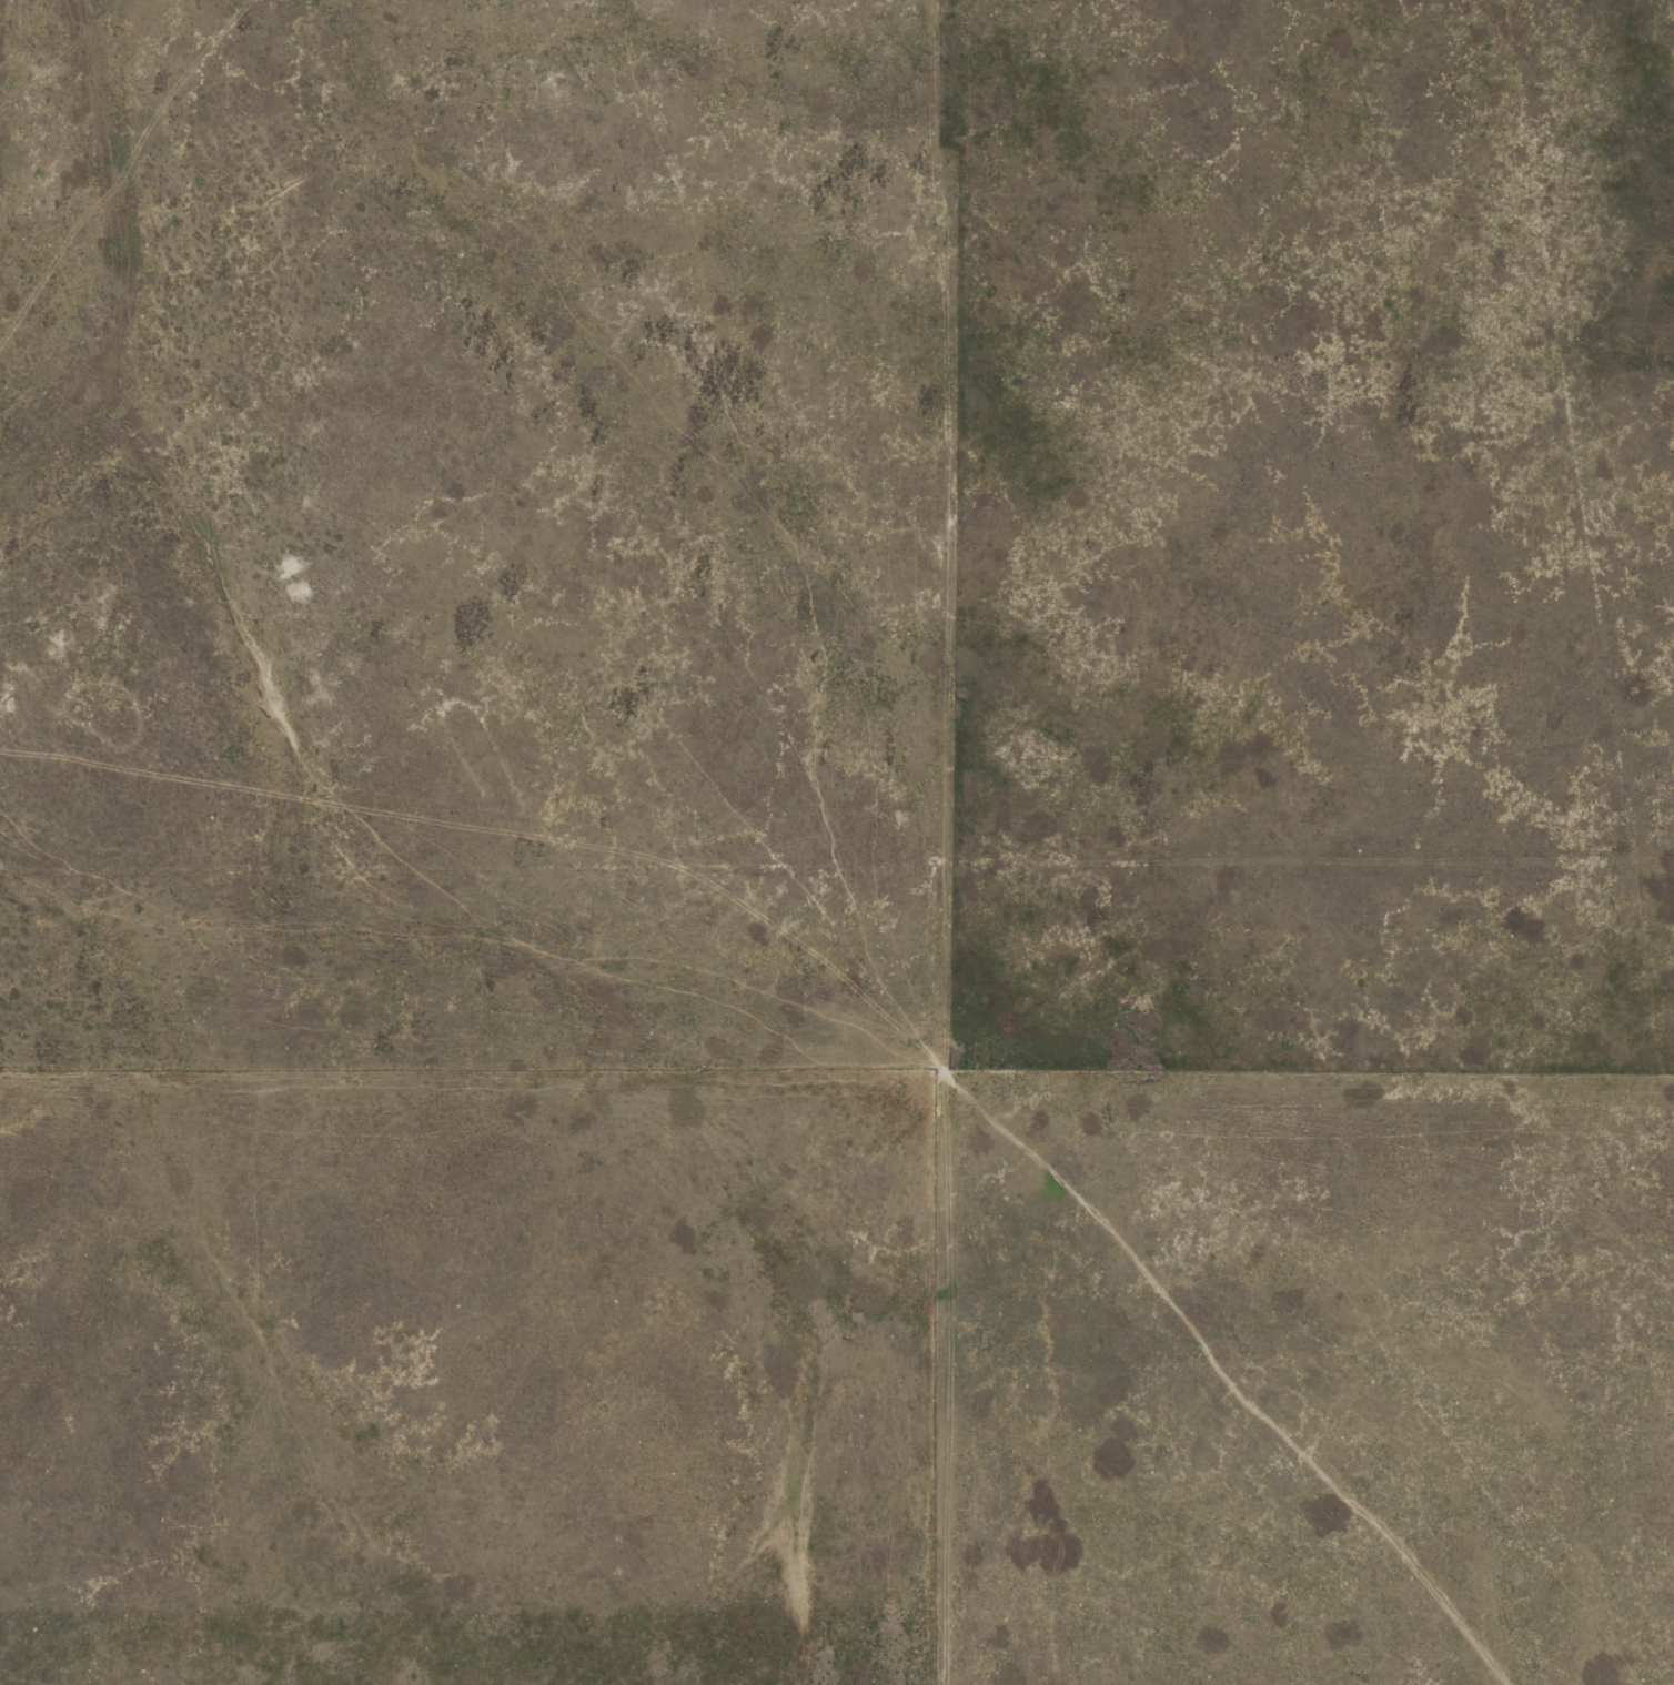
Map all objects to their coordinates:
road: (949, 1403)

